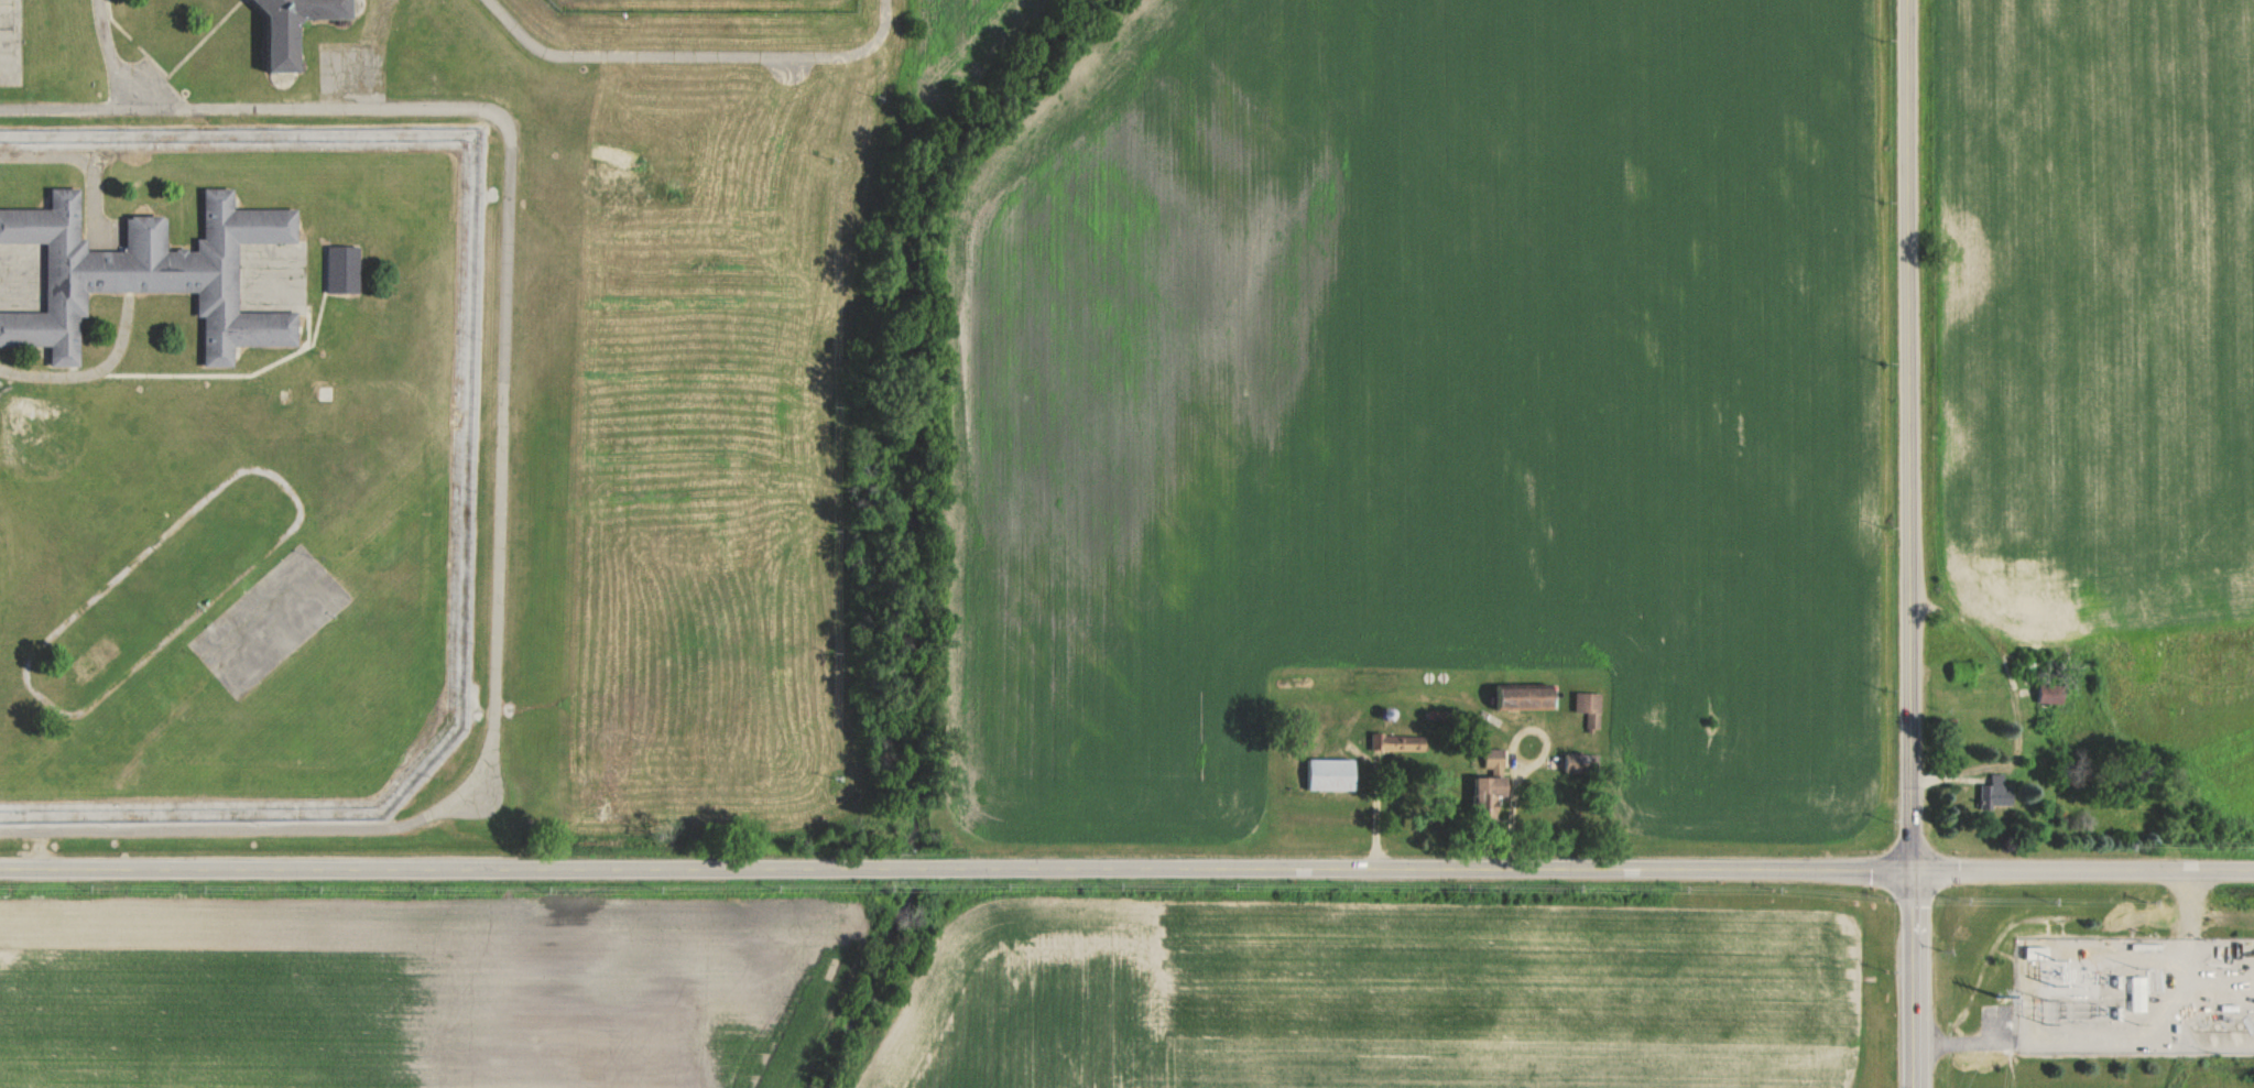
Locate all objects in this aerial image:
building: (283, 45)
road: (107, 53)
building: (340, 271)
building: (138, 272)
road: (501, 445)
road: (1912, 543)
building: (1527, 697)
building: (2043, 698)
building: (1591, 707)
building: (1397, 743)
building: (1496, 754)
building: (1317, 781)
building: (1493, 790)
building: (1995, 792)
road: (957, 872)
road: (2084, 873)
road: (2192, 905)
building: (2134, 994)
power tower: (2001, 997)
power substation: (2135, 997)
road: (2000, 1025)
road: (1966, 1043)

